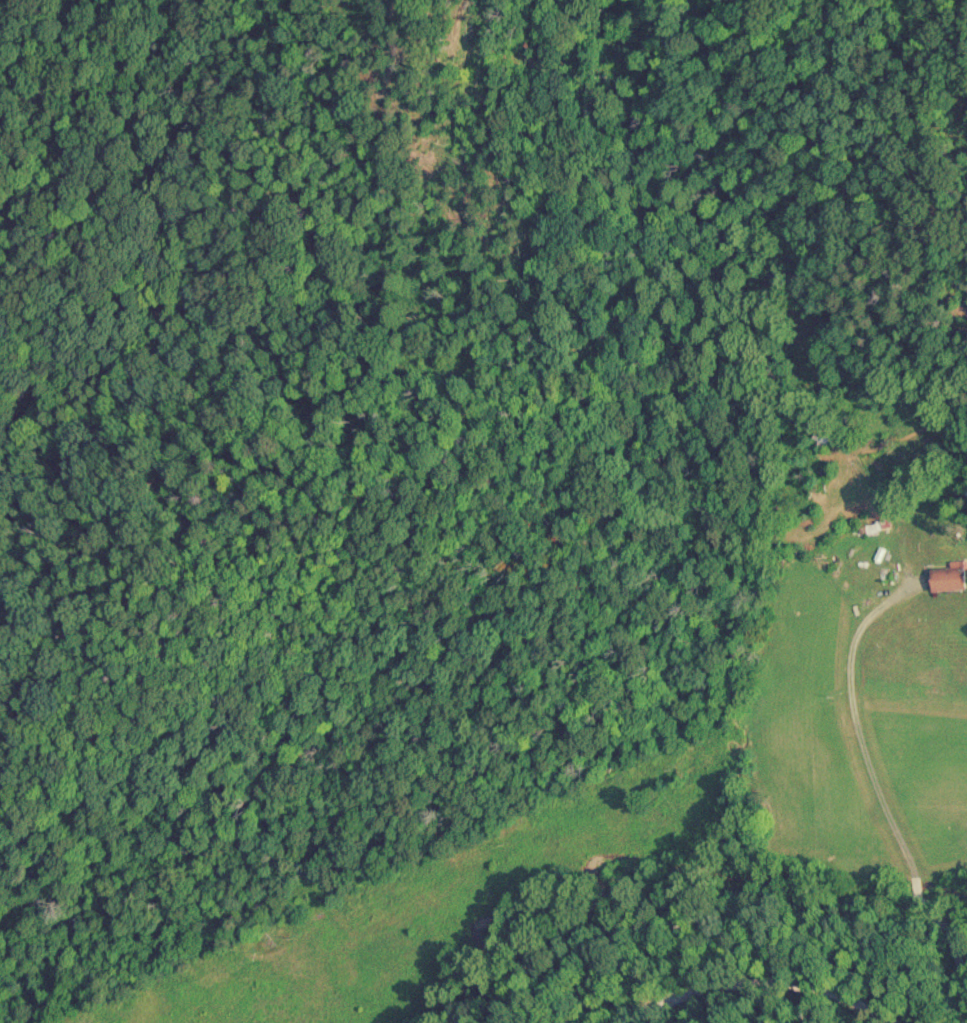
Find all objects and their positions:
road: (746, 970)

